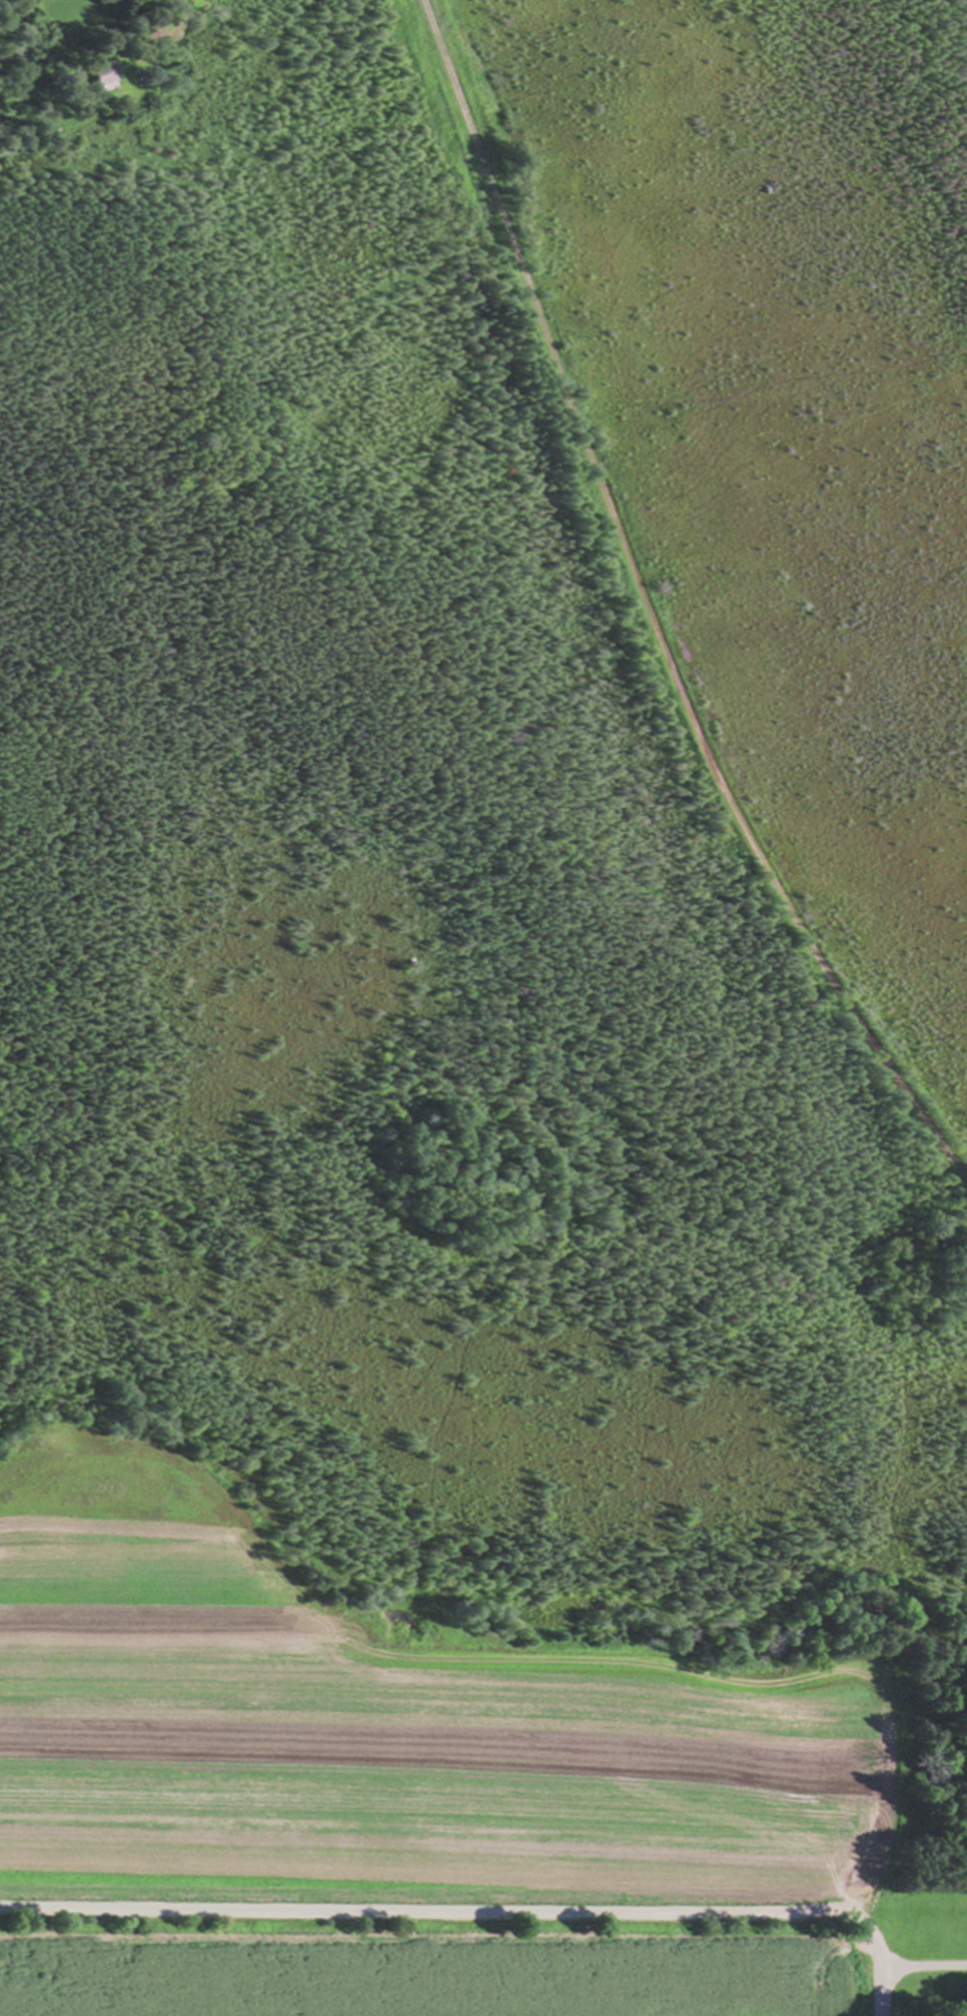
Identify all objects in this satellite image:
building: (109, 72)
road: (649, 610)
road: (503, 1910)
road: (879, 1992)

